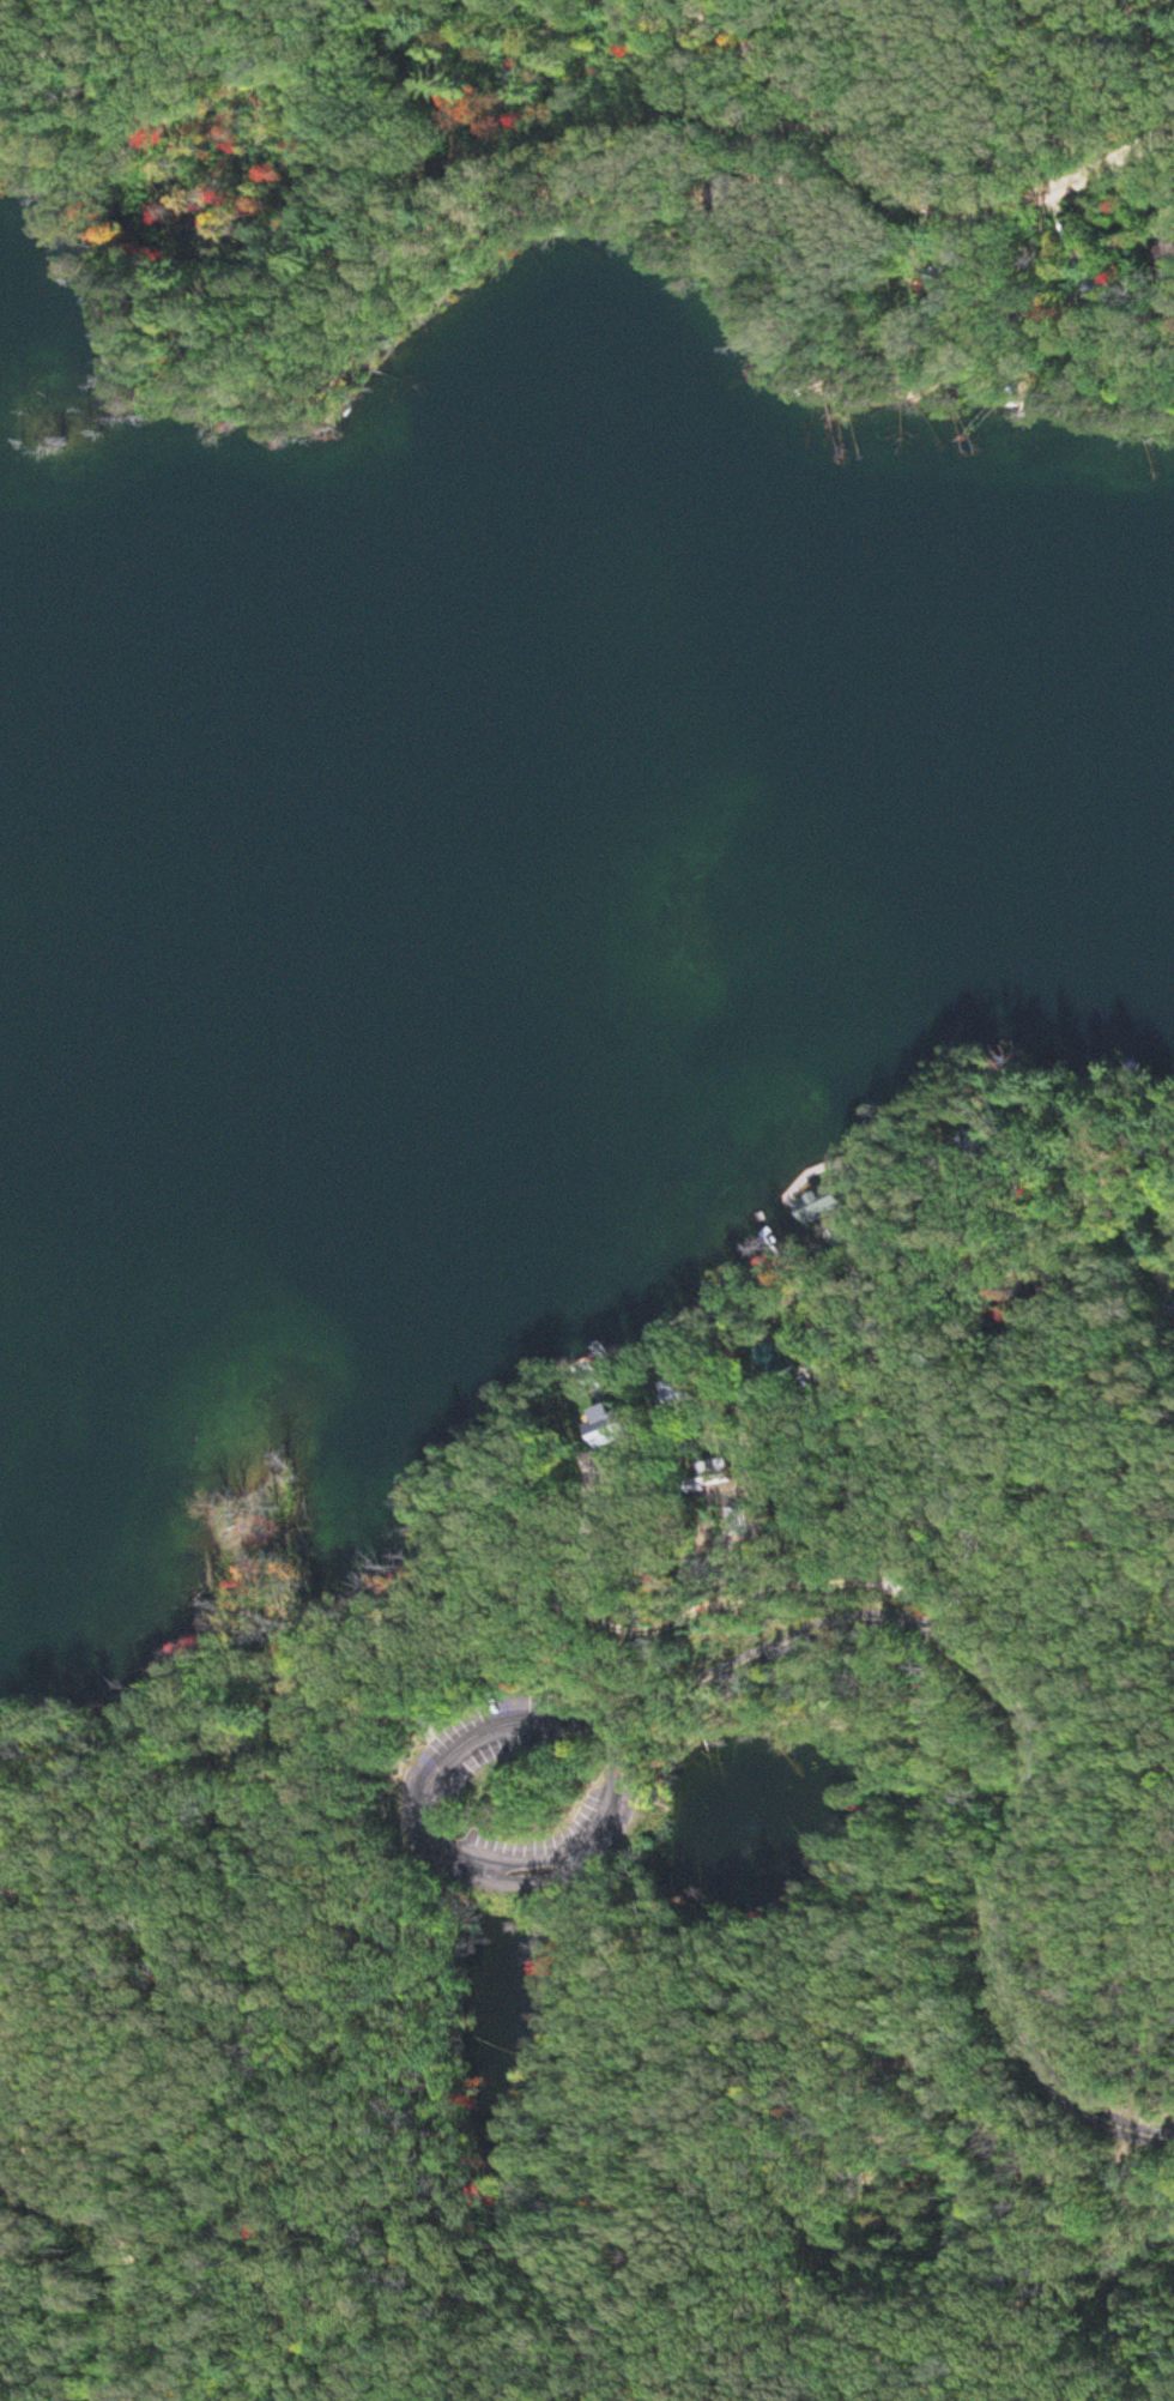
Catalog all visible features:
road: (718, 17)
road: (129, 84)
road: (480, 163)
road: (894, 192)
road: (875, 1357)
road: (740, 1385)
road: (920, 1413)
road: (1045, 1431)
road: (767, 1554)
road: (1039, 1745)
road: (447, 1786)

